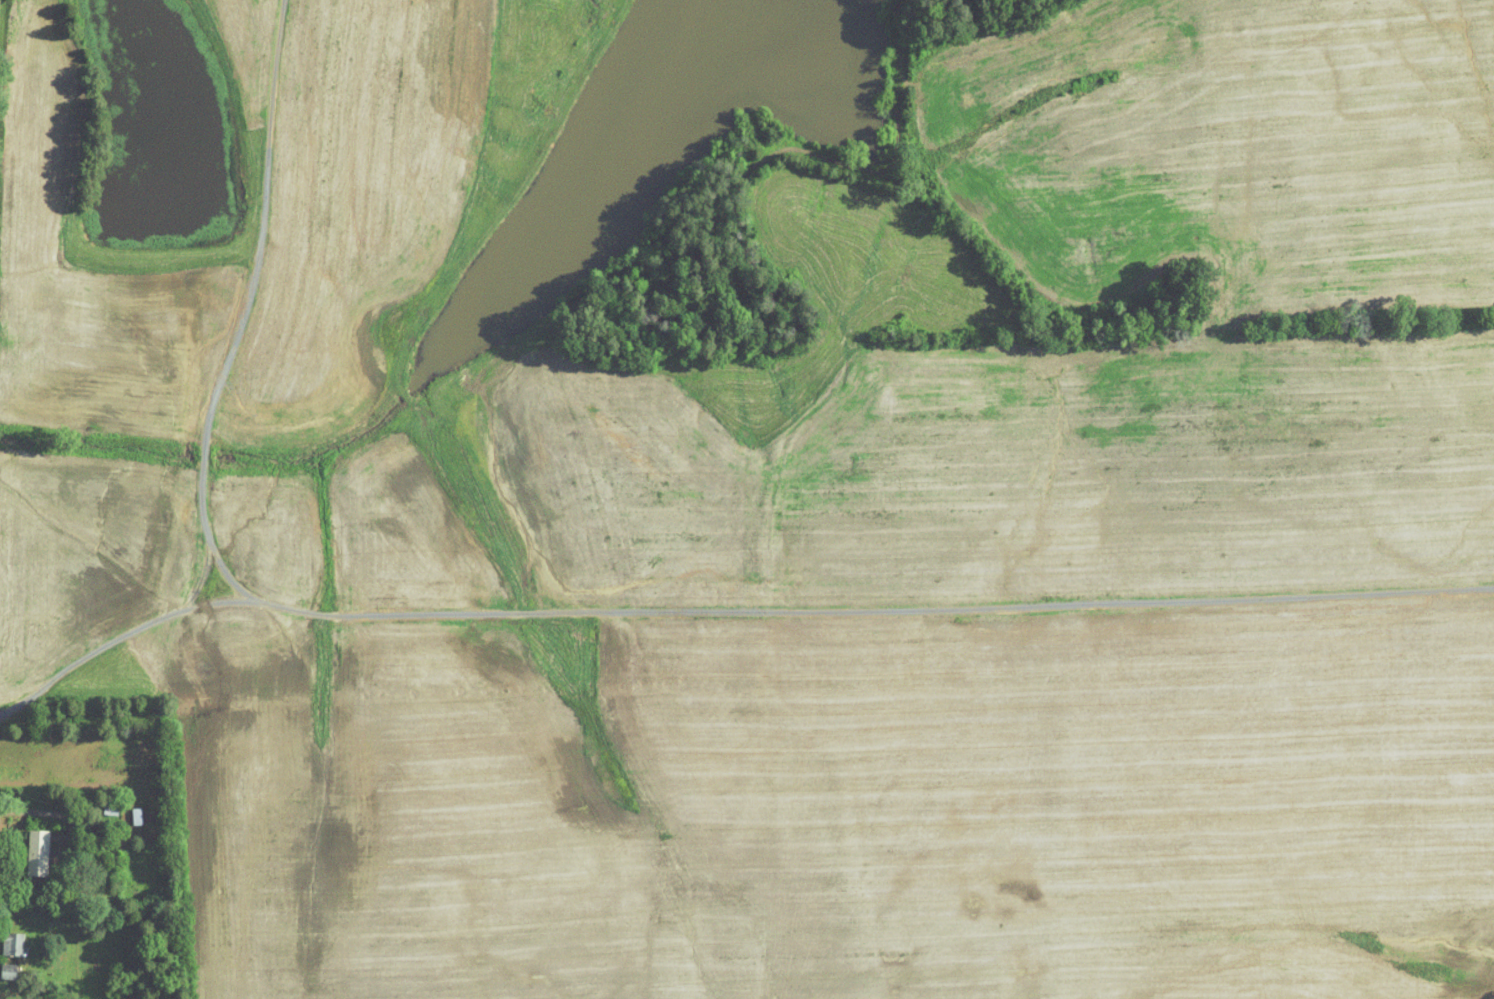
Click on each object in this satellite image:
building: (125, 810)
road: (50, 812)
building: (26, 846)
road: (10, 960)

